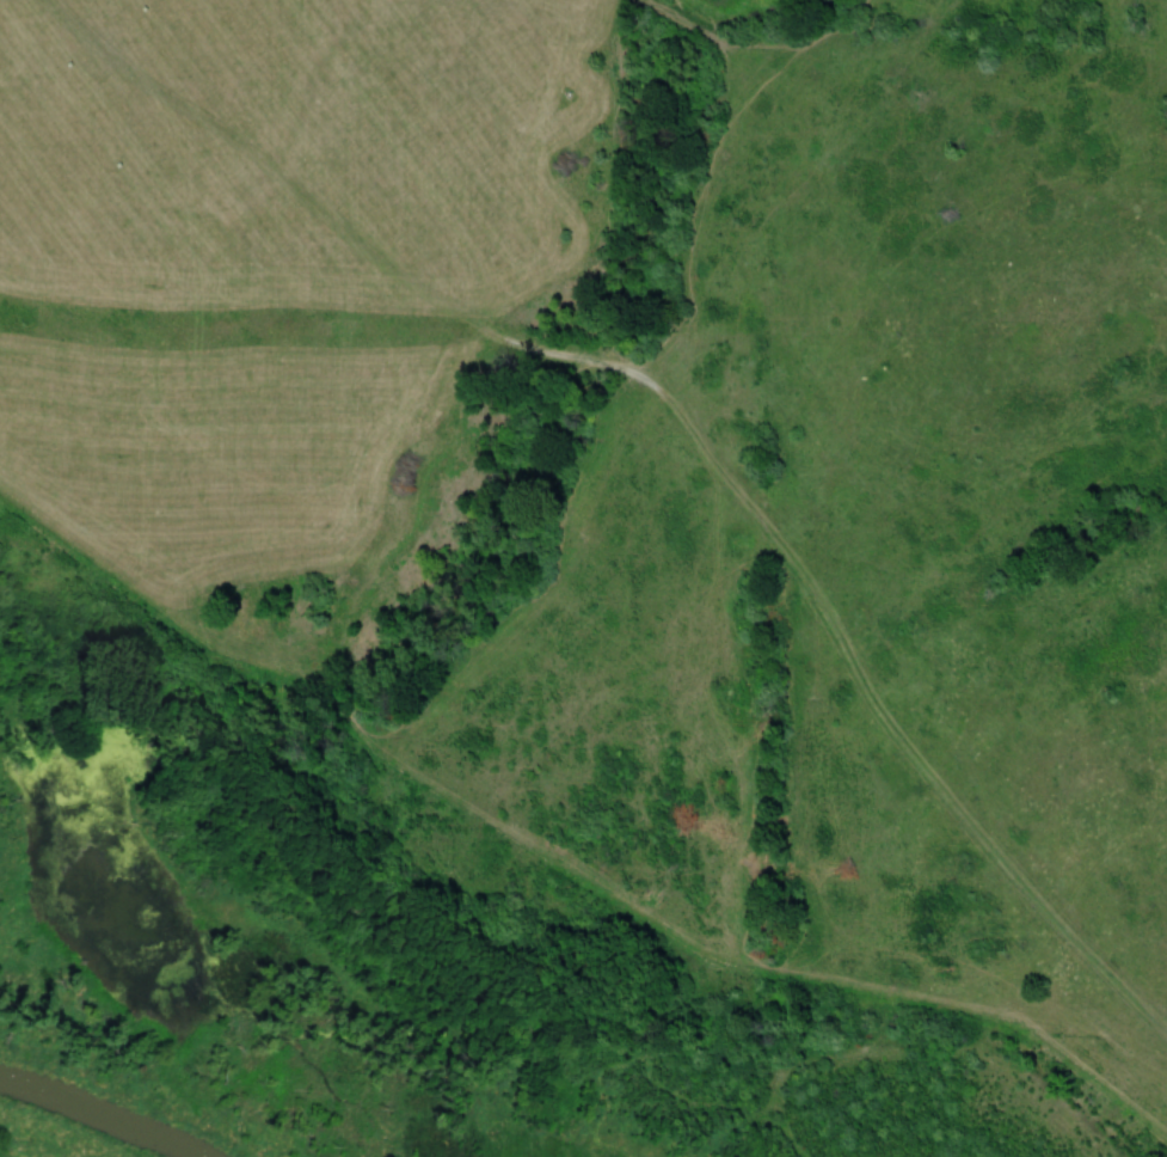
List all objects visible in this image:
road: (682, 420)
river: (102, 1114)

